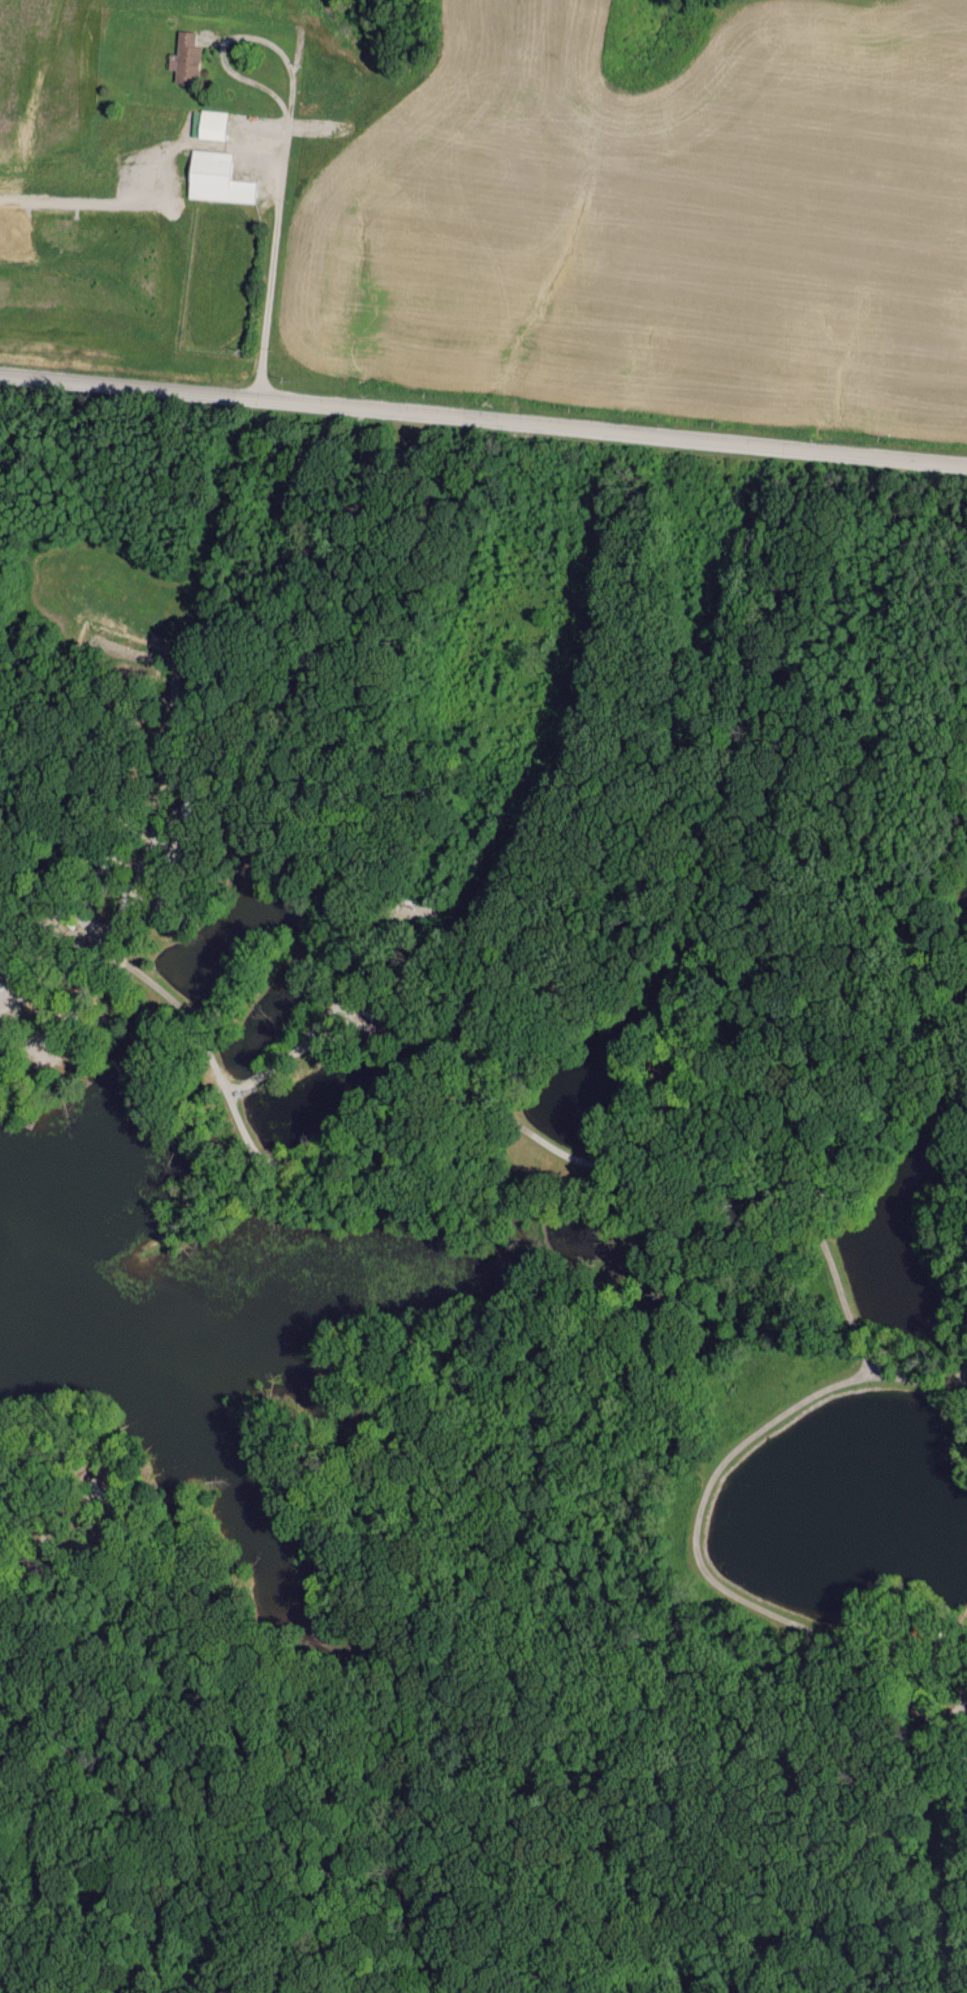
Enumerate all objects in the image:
building: (183, 56)
building: (210, 123)
building: (215, 177)
road: (483, 420)

